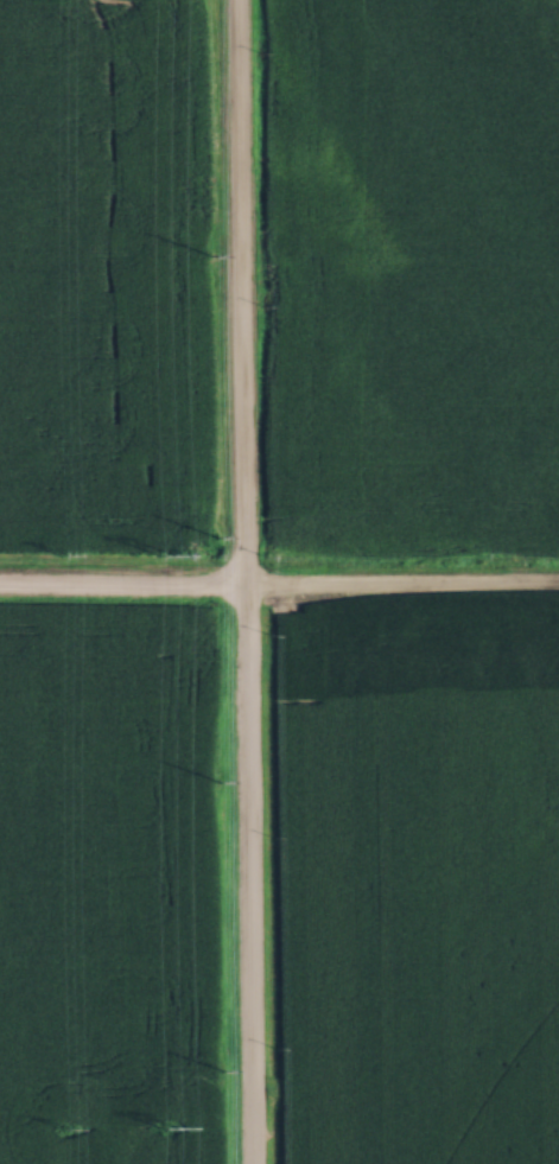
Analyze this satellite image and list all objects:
power tower: (159, 553)
power tower: (59, 554)
road: (242, 581)
road: (279, 581)
power tower: (166, 1125)
power tower: (64, 1127)

